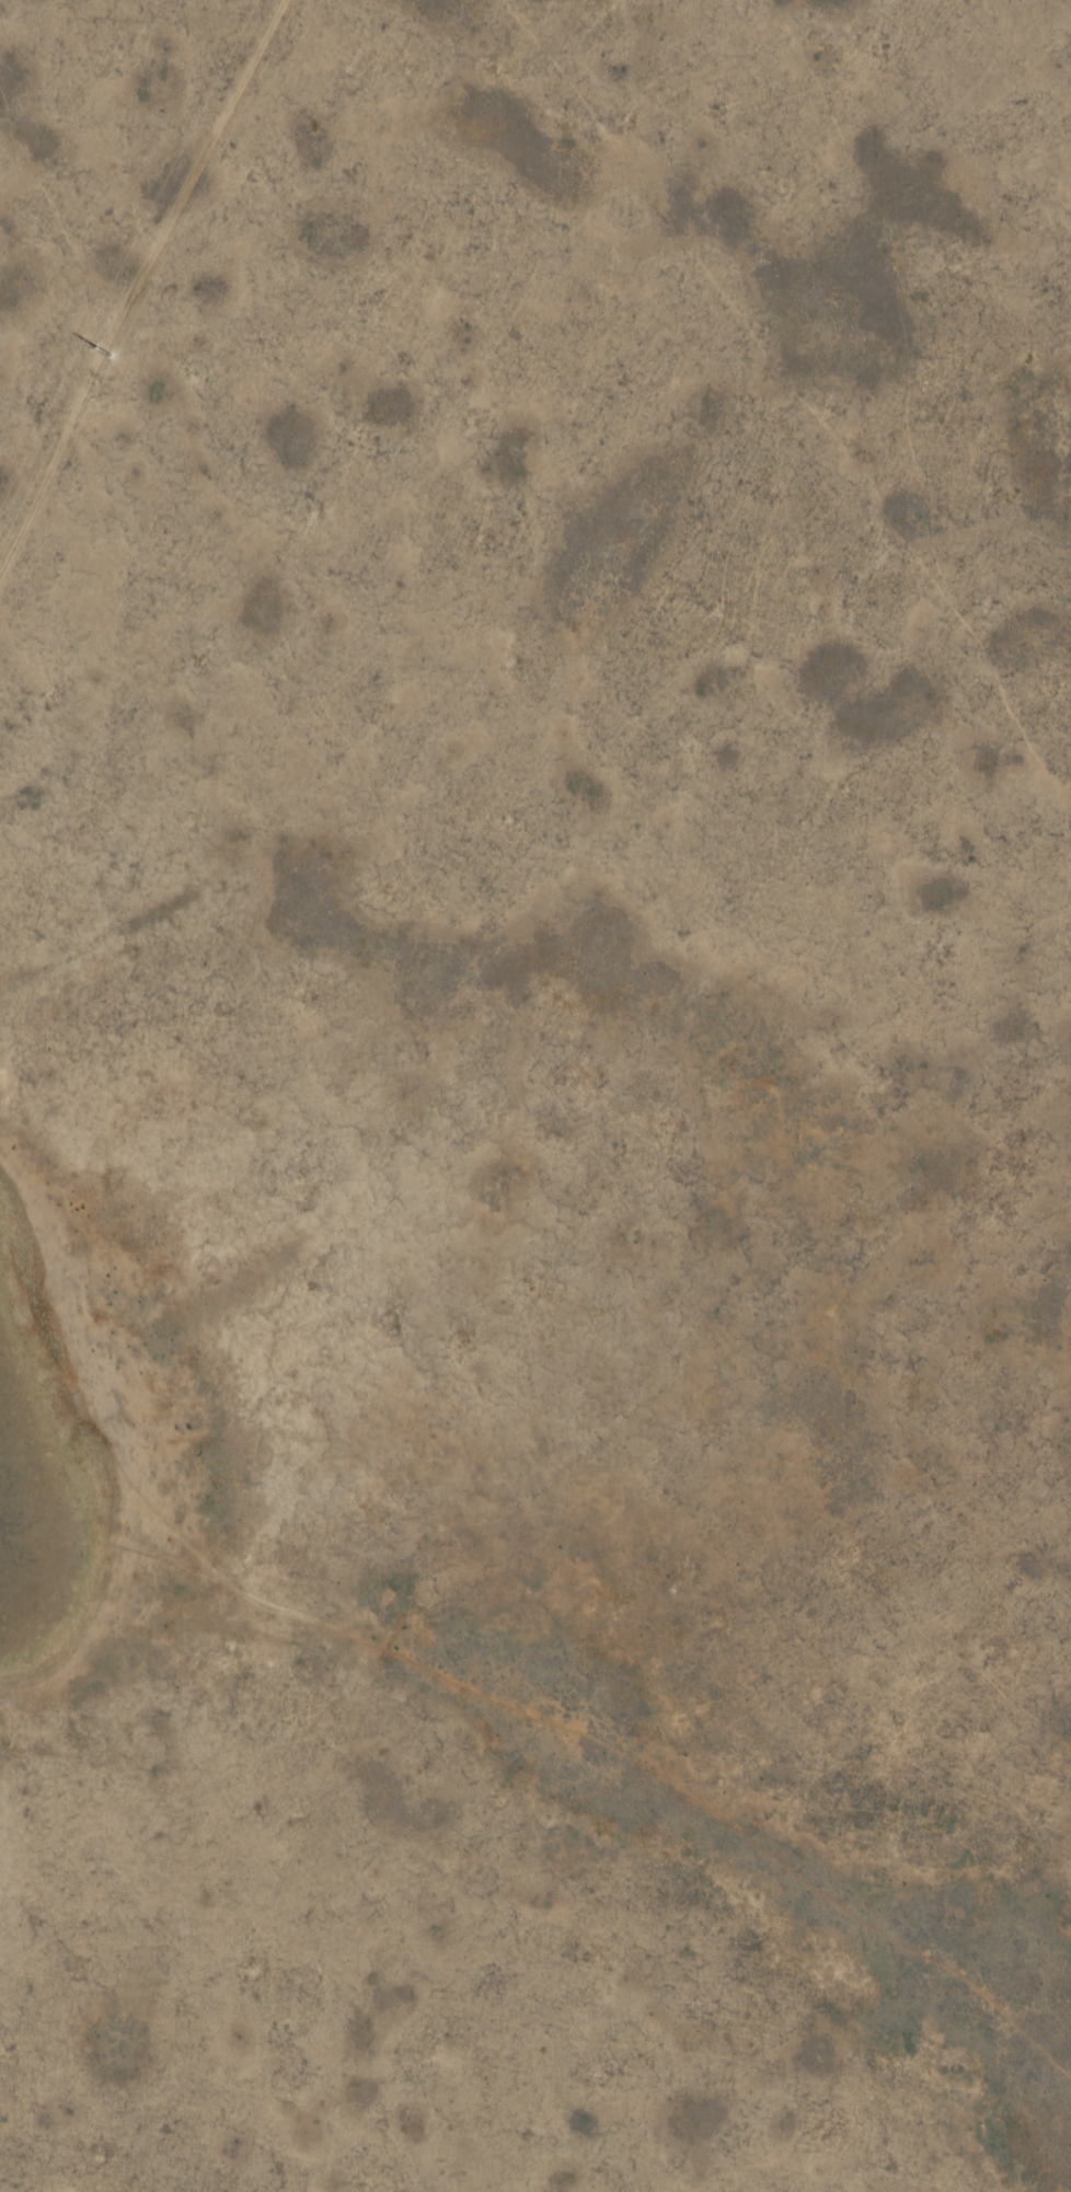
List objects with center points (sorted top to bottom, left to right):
power tower: (105, 348)

